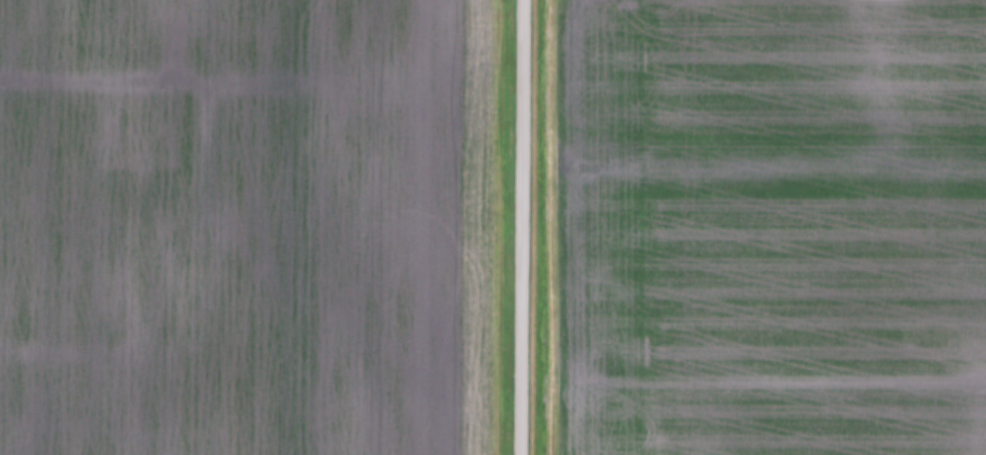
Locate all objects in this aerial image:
road: (524, 227)

